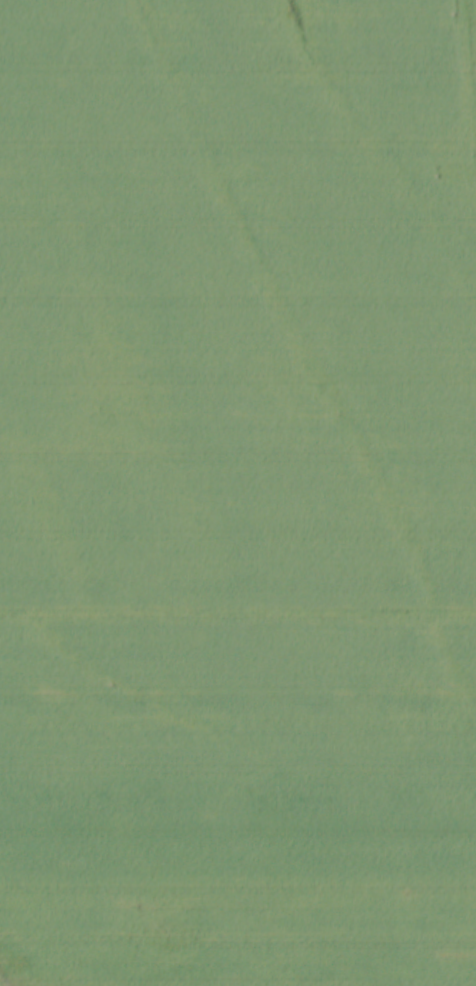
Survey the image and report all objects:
crop: (238, 493)

